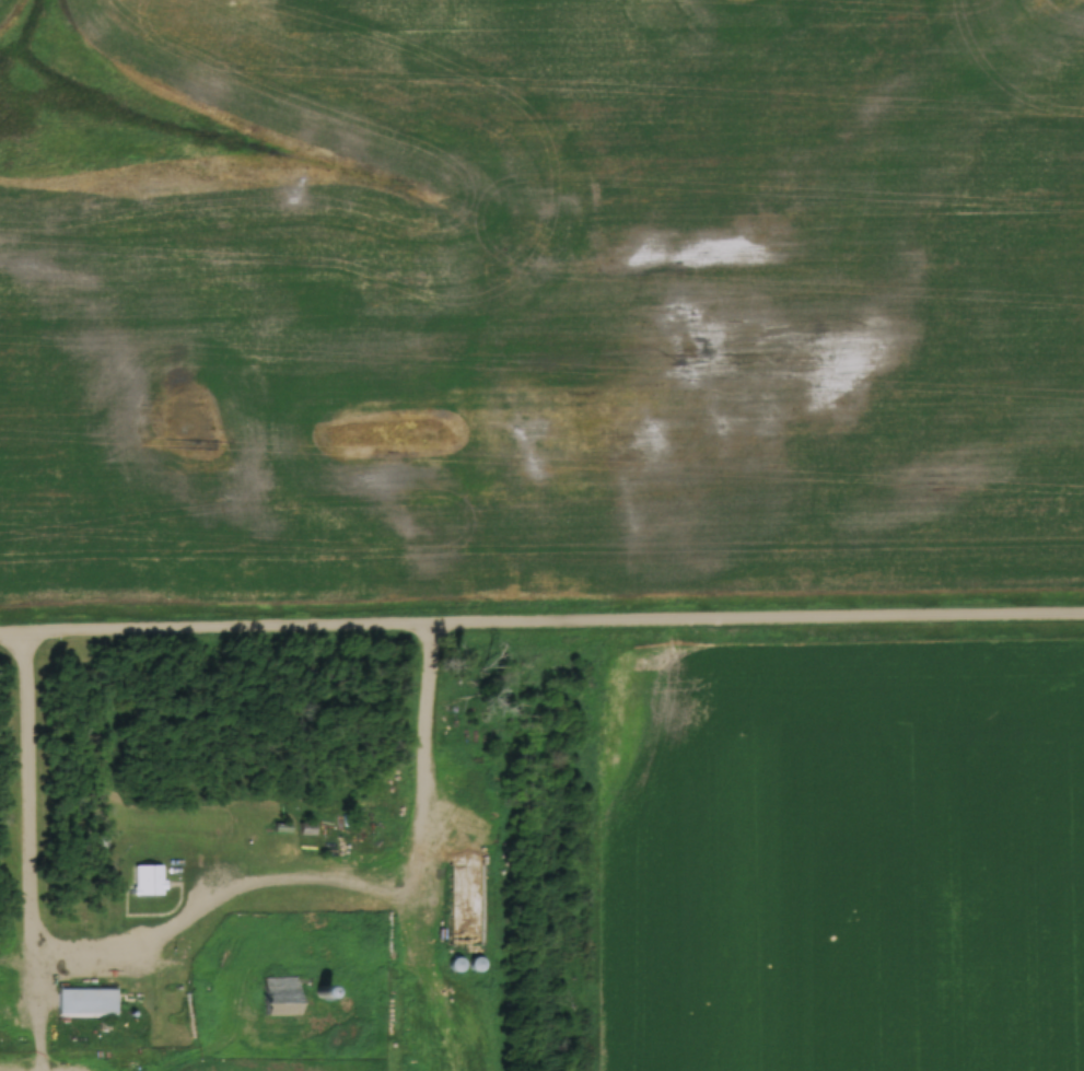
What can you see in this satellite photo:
road: (541, 619)
building: (457, 874)
building: (147, 877)
building: (278, 994)
building: (85, 1001)

